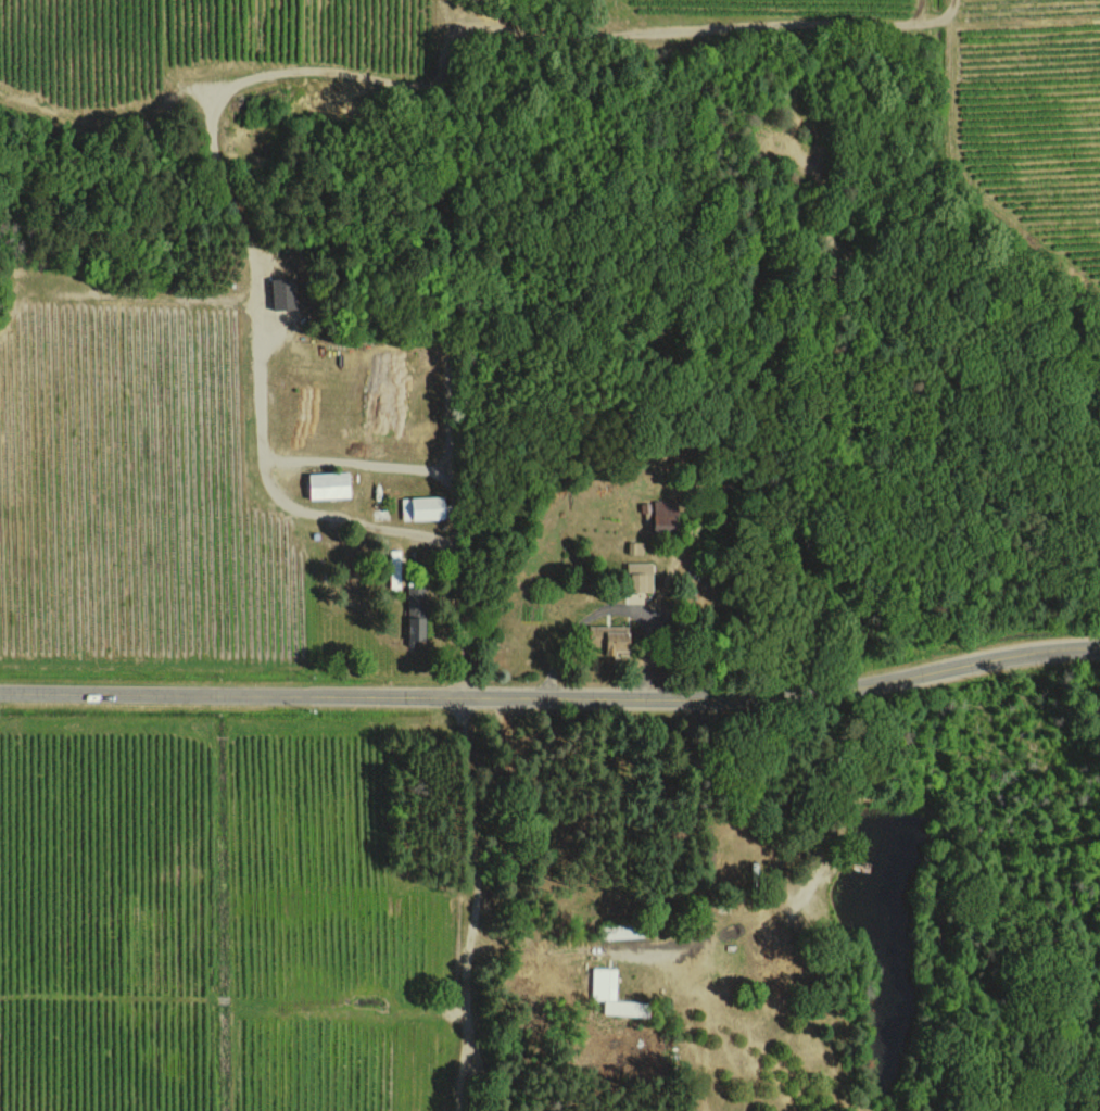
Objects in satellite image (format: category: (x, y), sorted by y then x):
building: (281, 291)
road: (394, 465)
building: (327, 484)
building: (421, 507)
building: (663, 514)
building: (635, 546)
building: (638, 576)
building: (415, 613)
road: (579, 621)
building: (607, 636)
road: (552, 703)
road: (475, 834)
road: (705, 839)
building: (614, 994)
road: (472, 1026)

